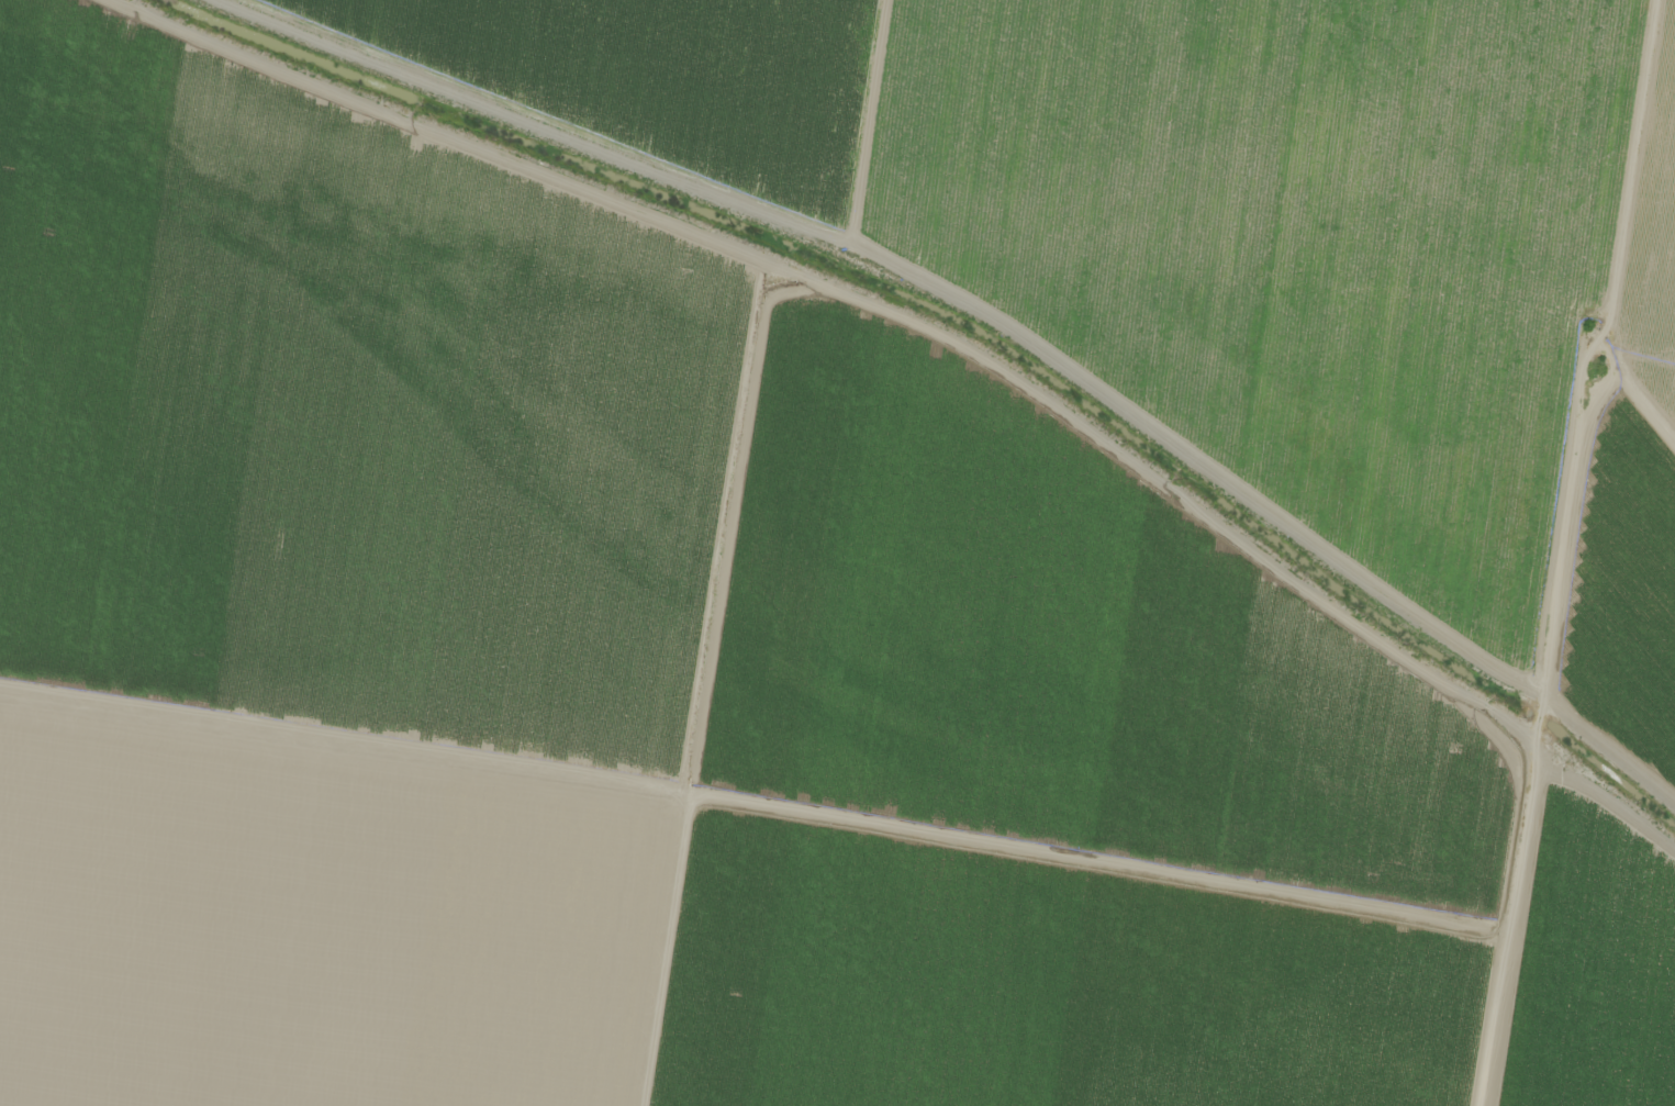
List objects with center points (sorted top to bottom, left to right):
river: (968, 332)
road: (1617, 515)

